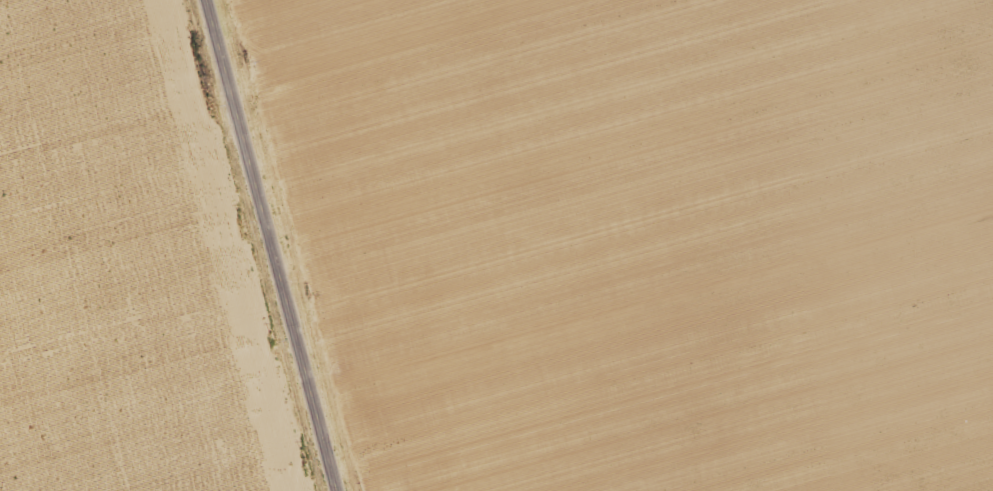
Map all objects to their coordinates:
road: (270, 245)

